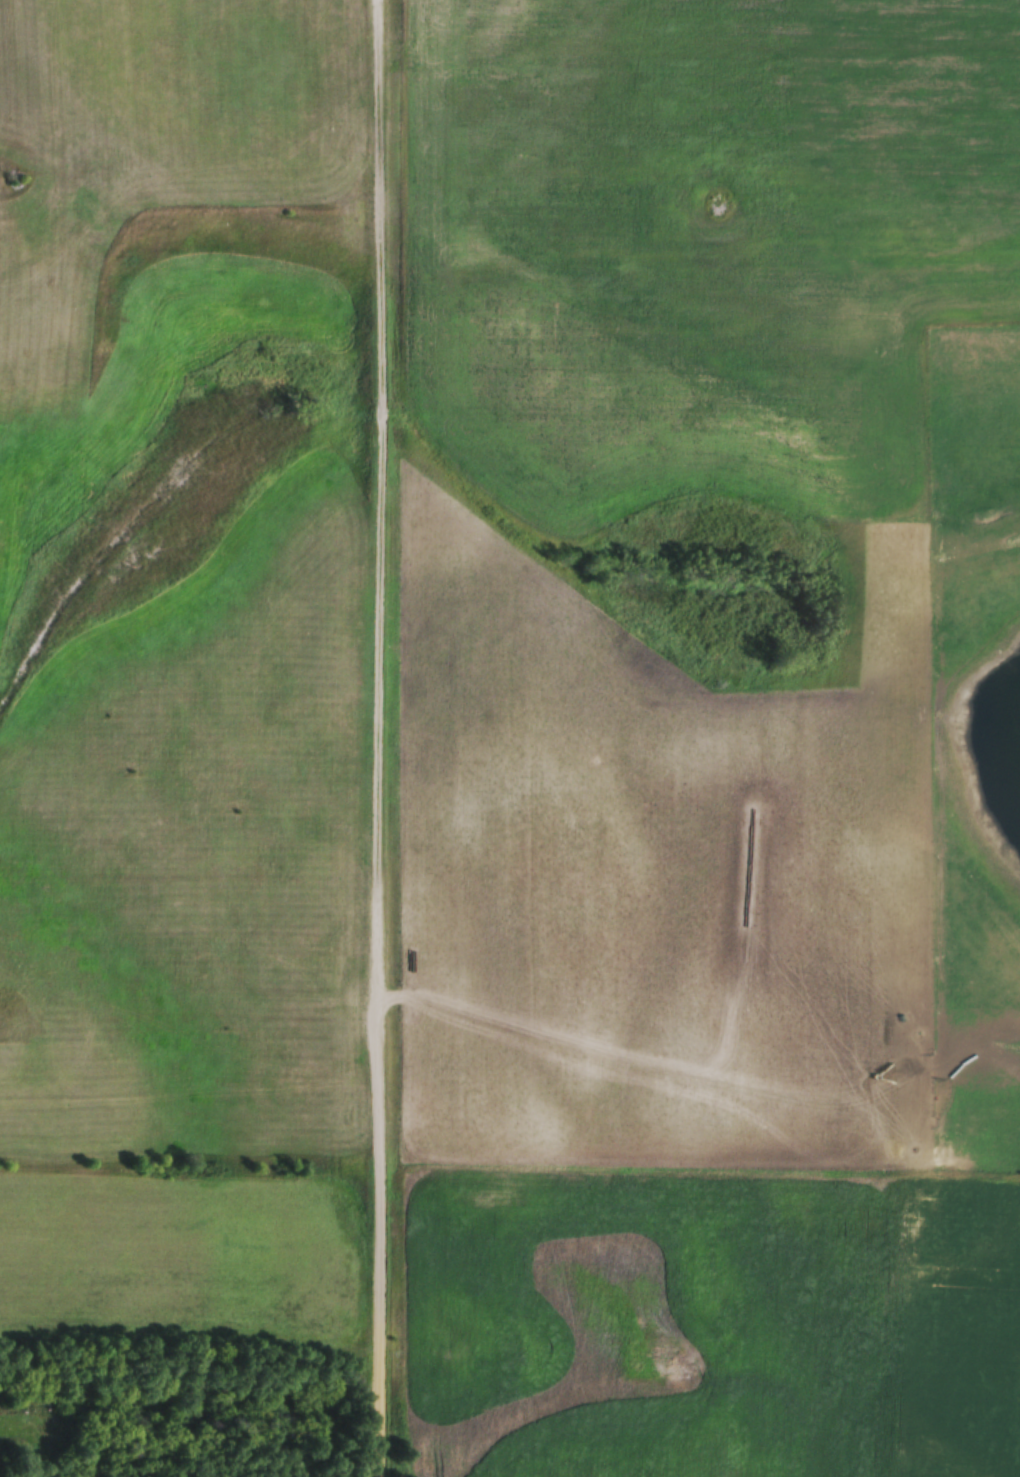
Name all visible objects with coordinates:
road: (379, 738)

